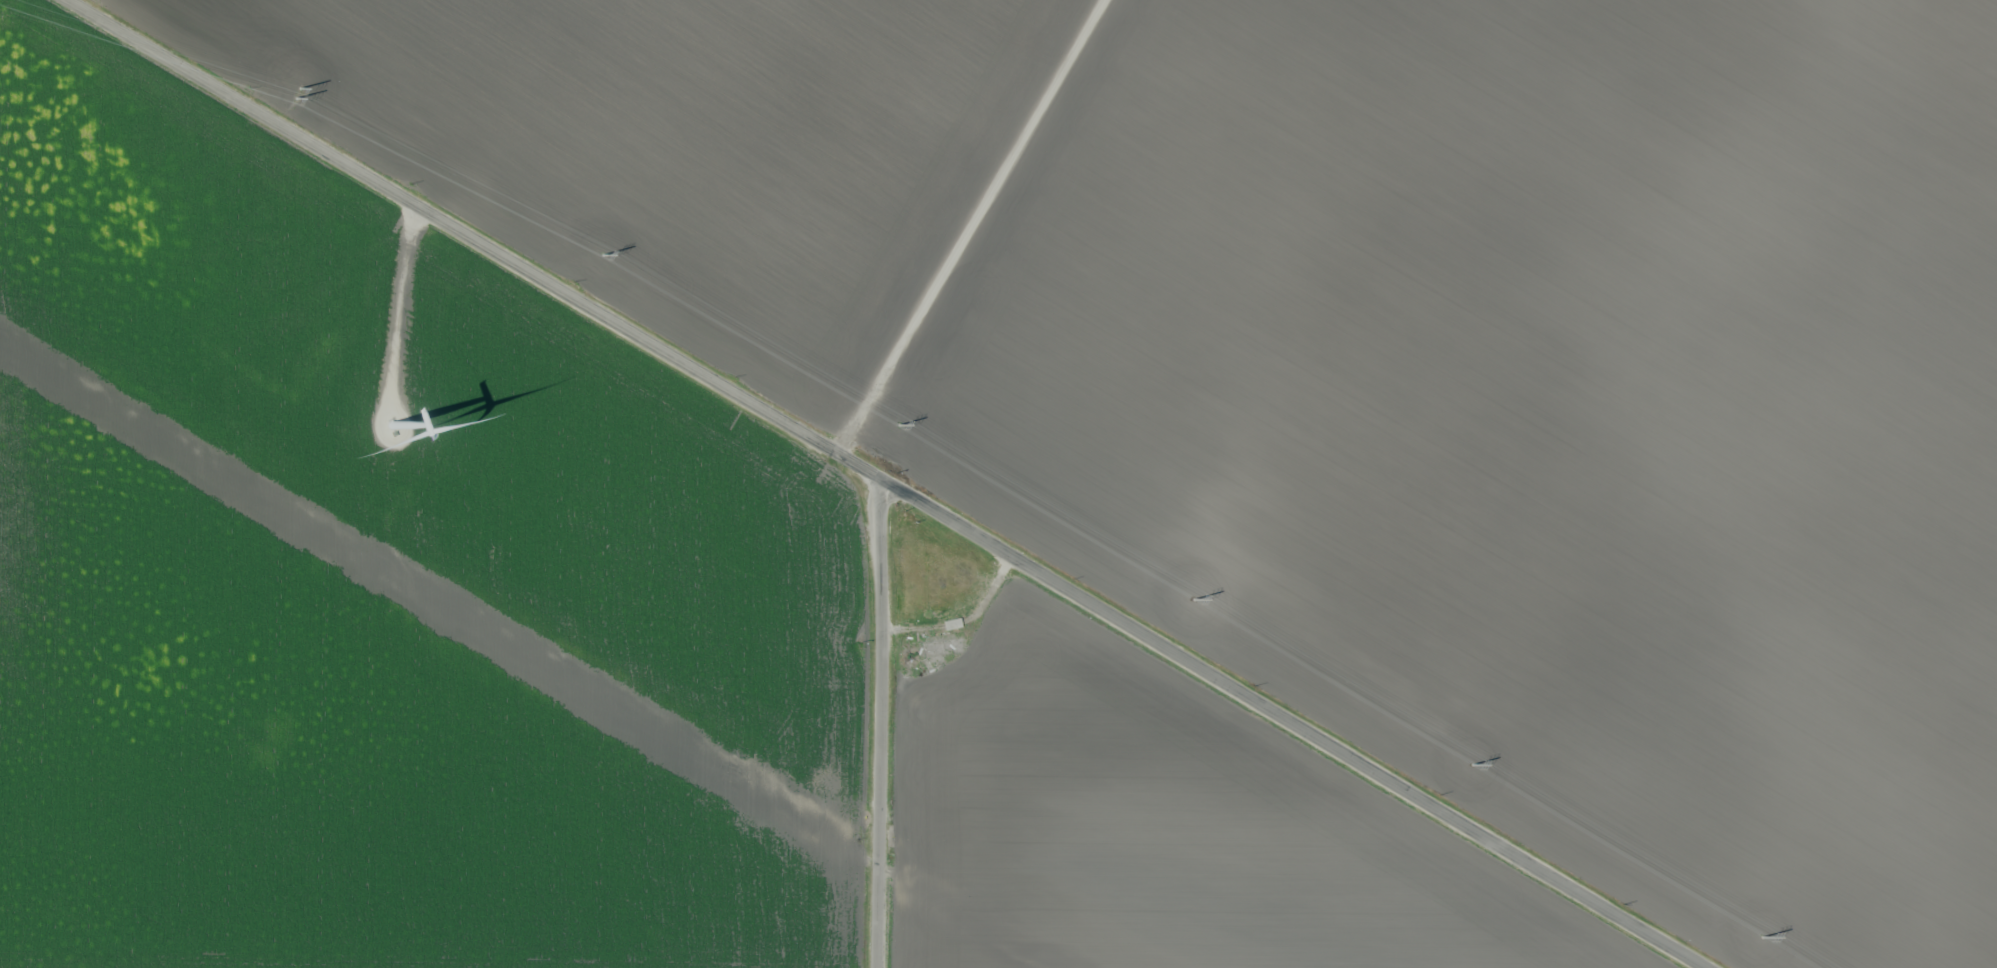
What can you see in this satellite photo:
power tower: (297, 91)
road: (976, 231)
power tower: (602, 253)
power tower: (899, 424)
wind turbine: (393, 429)
road: (885, 483)
road: (890, 504)
power tower: (1193, 598)
building: (944, 645)
road: (874, 709)
power tower: (1471, 764)
power tower: (1763, 937)

